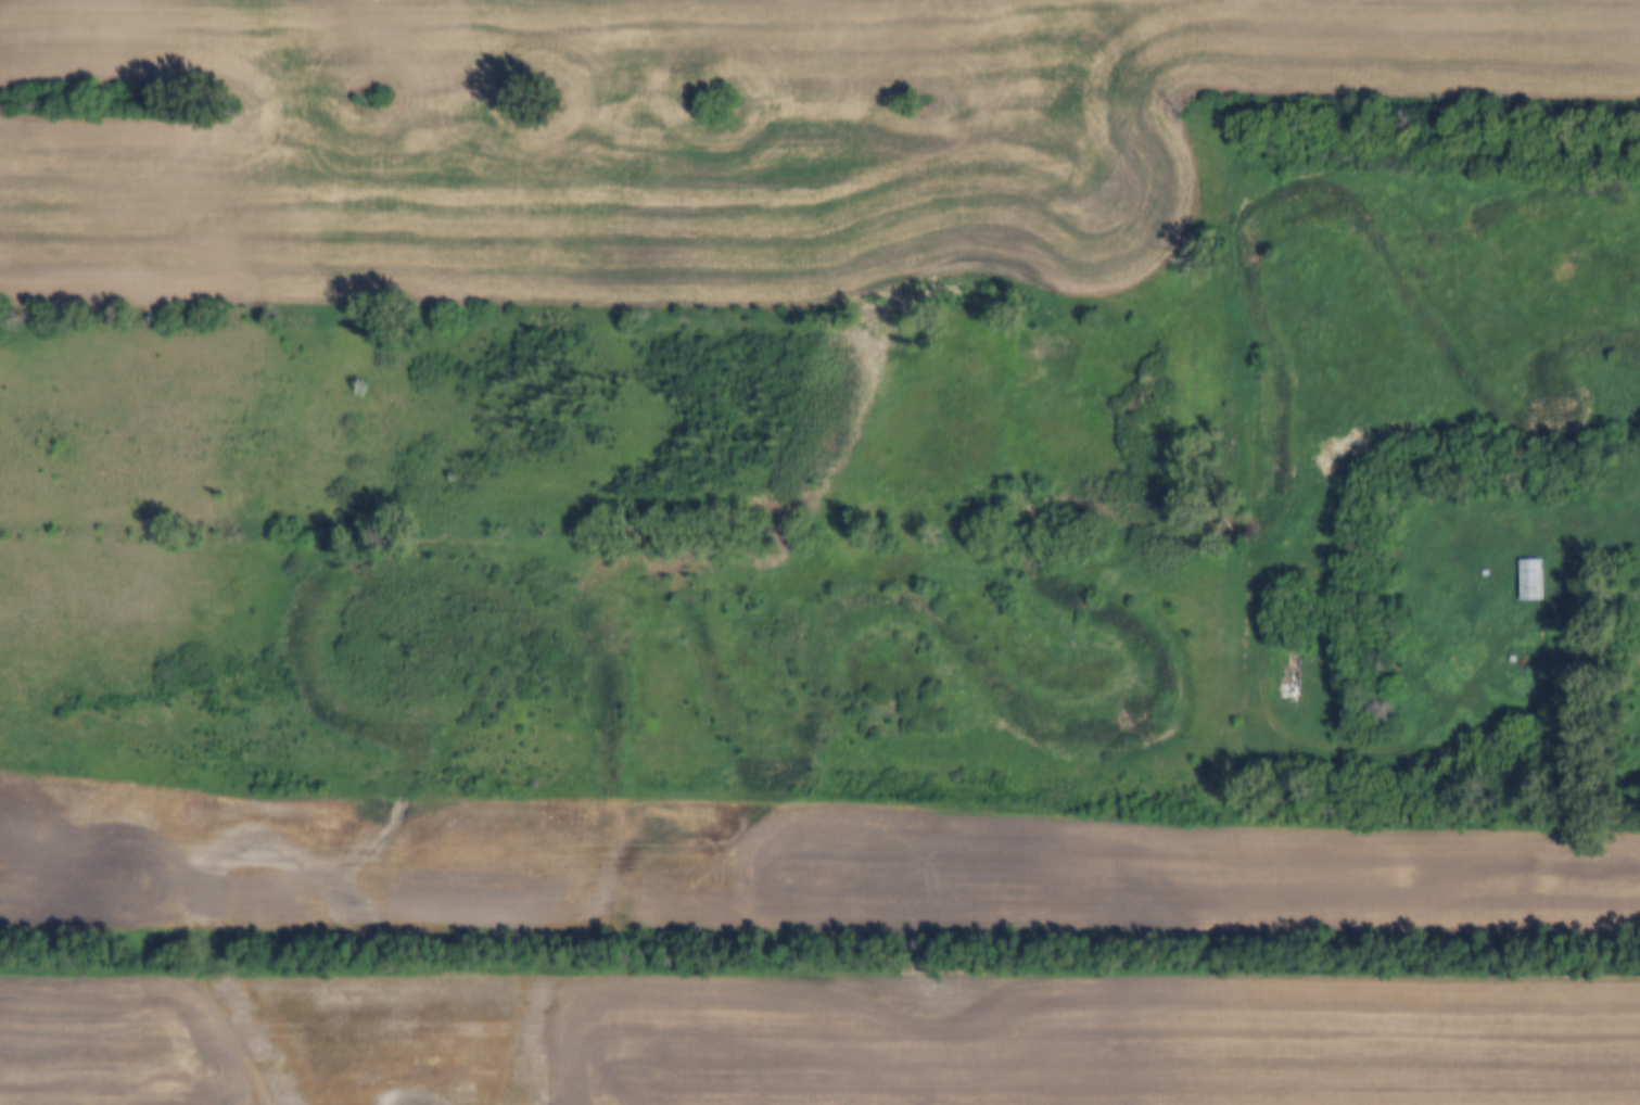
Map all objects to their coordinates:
building: (1528, 579)

